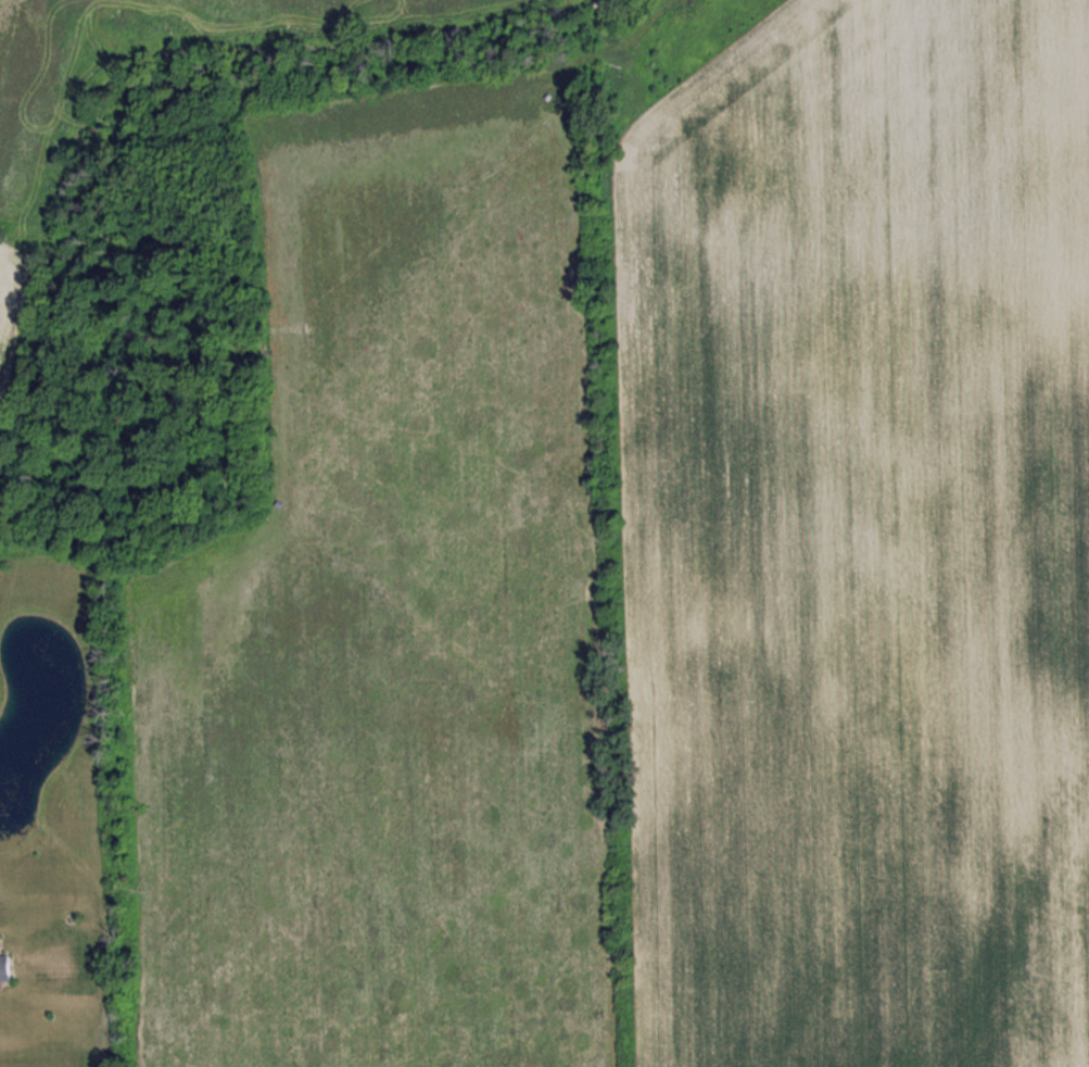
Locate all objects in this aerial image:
building: (9, 964)

